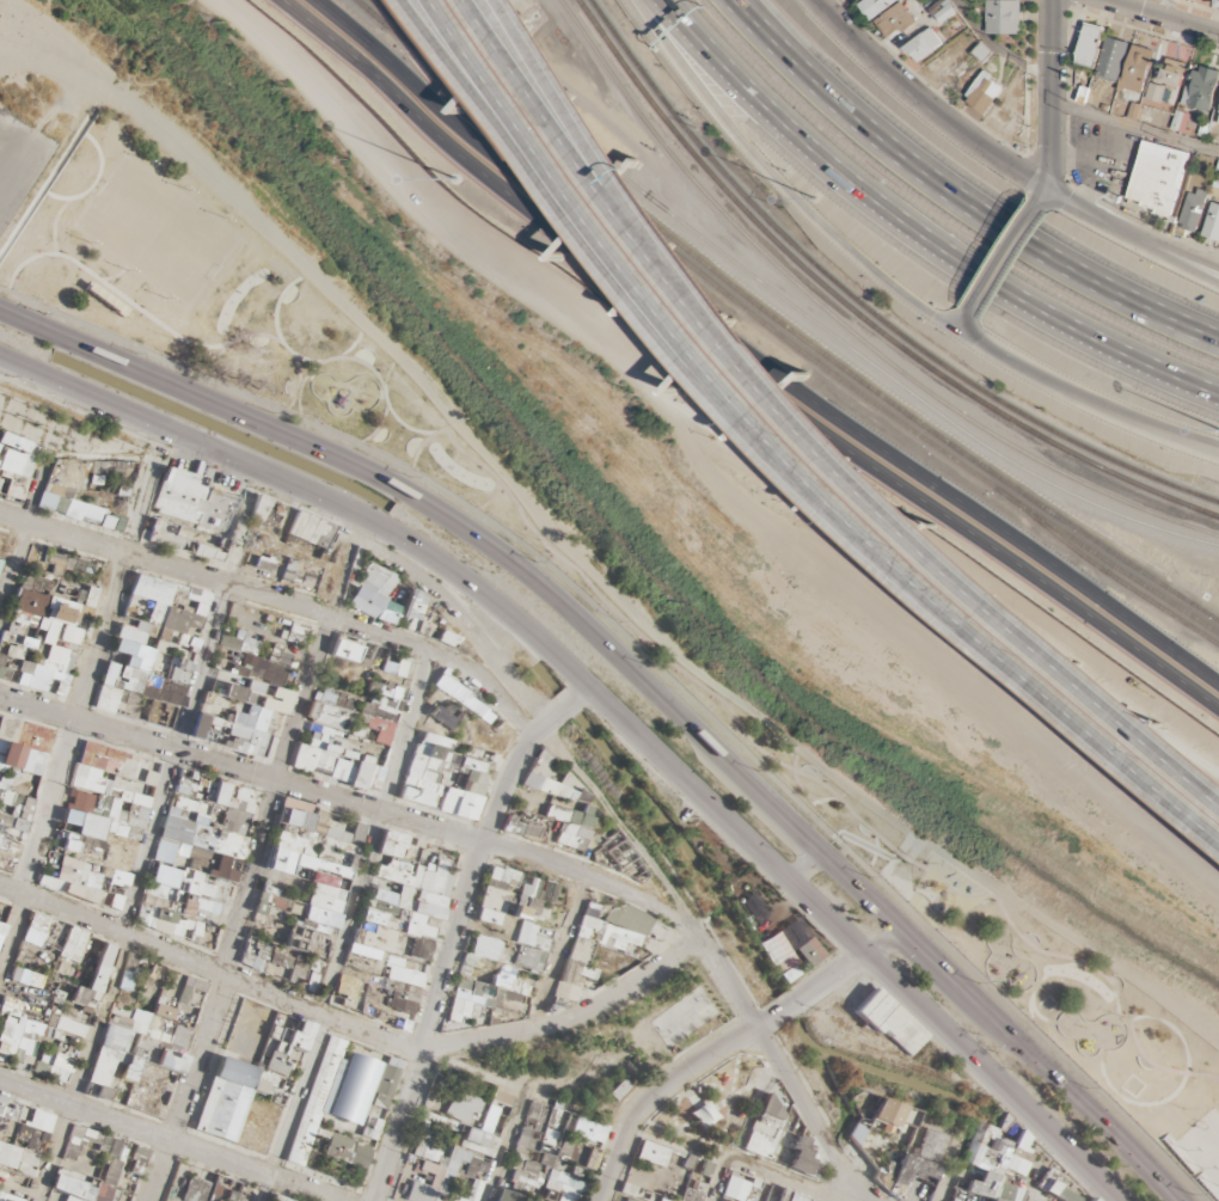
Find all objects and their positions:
building: (875, 6)
road: (1165, 8)
building: (943, 11)
railway: (369, 12)
railway: (372, 12)
road: (1163, 16)
building: (1003, 17)
building: (895, 22)
building: (924, 44)
building: (1089, 45)
road: (996, 47)
building: (982, 53)
building: (1113, 59)
road: (528, 66)
road: (540, 66)
building: (1138, 69)
building: (1172, 73)
railway: (649, 80)
road: (1050, 85)
building: (1201, 88)
building: (985, 92)
road: (921, 104)
road: (522, 105)
road: (510, 106)
building: (1218, 122)
road: (1134, 127)
road: (8, 147)
railway: (699, 161)
road: (1101, 166)
building: (1157, 177)
road: (782, 183)
road: (1046, 185)
road: (1090, 186)
road: (1060, 198)
road: (955, 200)
building: (1194, 209)
building: (1212, 222)
road: (918, 229)
road: (1146, 235)
road: (1145, 247)
road: (1007, 258)
railway: (684, 262)
railway: (828, 276)
railway: (788, 305)
road: (968, 323)
railway: (783, 326)
railway: (841, 327)
road: (760, 349)
road: (743, 363)
railway: (956, 384)
road: (1088, 398)
railway: (1085, 449)
road: (706, 459)
road: (874, 477)
railway: (1145, 490)
road: (234, 525)
road: (347, 525)
road: (889, 533)
road: (16, 543)
river: (626, 546)
road: (580, 557)
railway: (1105, 560)
building: (0, 562)
railway: (1102, 570)
road: (335, 574)
road: (281, 599)
park: (602, 605)
road: (457, 614)
building: (39, 624)
road: (638, 680)
road: (604, 711)
road: (74, 716)
building: (23, 736)
building: (343, 742)
road: (354, 805)
road: (625, 828)
road: (801, 871)
building: (302, 893)
road: (137, 894)
building: (391, 902)
building: (128, 906)
road: (241, 908)
building: (2, 909)
road: (347, 925)
road: (454, 932)
road: (552, 955)
park: (680, 1022)
road: (354, 1028)
road: (719, 1042)
building: (62, 1058)
road: (783, 1068)
building: (237, 1076)
road: (756, 1086)
road: (682, 1087)
road: (723, 1099)
road: (710, 1107)
road: (697, 1114)
building: (310, 1120)
road: (676, 1132)
road: (170, 1136)
building: (435, 1138)
road: (502, 1151)
road: (719, 1172)
road: (945, 1176)
road: (792, 1181)
road: (829, 1199)

